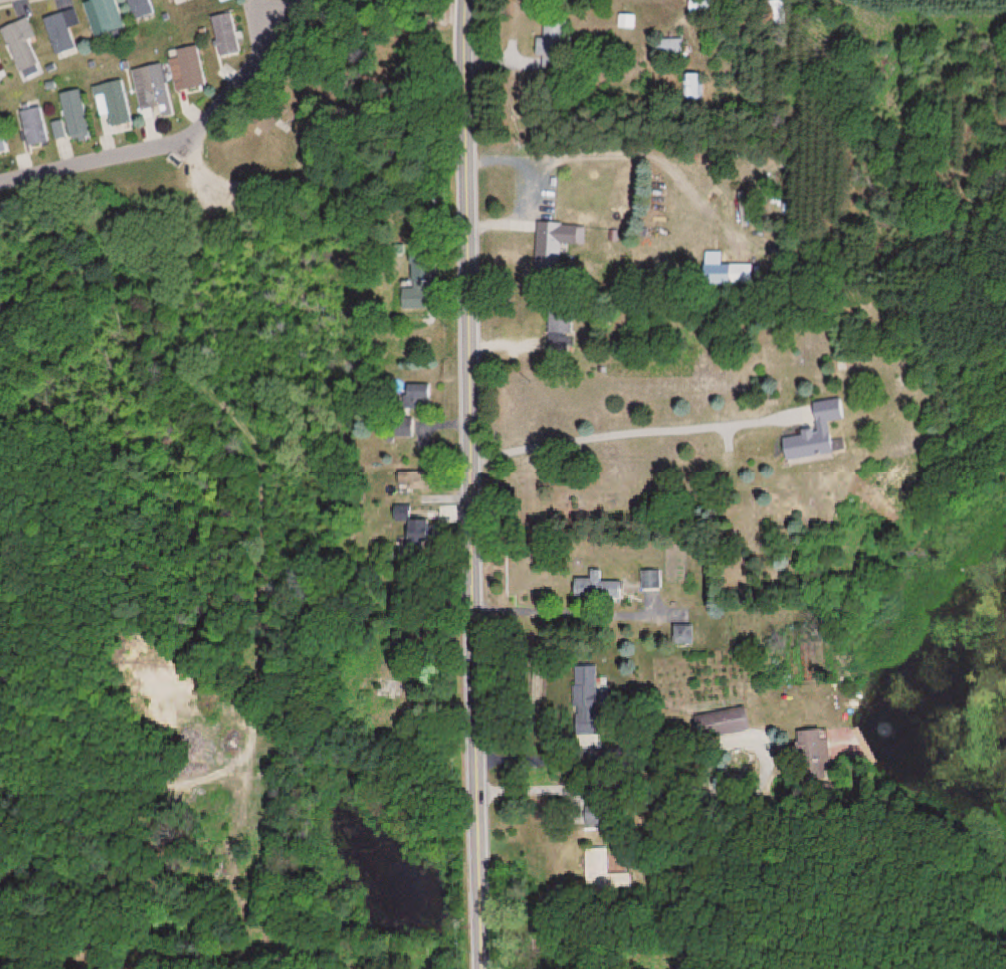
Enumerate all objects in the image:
building: (700, 5)
building: (144, 10)
building: (776, 13)
building: (101, 16)
building: (626, 20)
building: (223, 33)
building: (554, 37)
building: (19, 45)
building: (668, 47)
building: (184, 67)
road: (241, 70)
building: (693, 85)
building: (148, 86)
building: (113, 102)
building: (71, 114)
building: (33, 125)
building: (3, 139)
road: (92, 161)
building: (548, 244)
building: (738, 273)
building: (411, 297)
building: (559, 321)
building: (414, 397)
building: (401, 426)
road: (632, 432)
building: (810, 432)
road: (469, 484)
building: (651, 580)
building: (596, 589)
building: (680, 636)
building: (589, 701)
building: (724, 724)
building: (606, 874)

